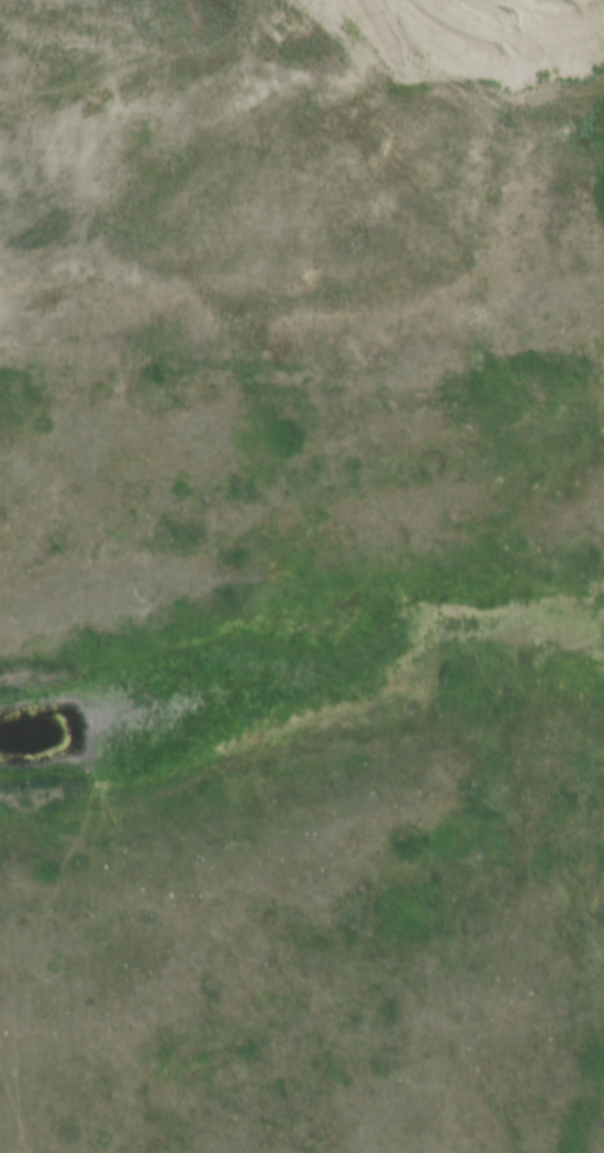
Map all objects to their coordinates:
quarry: (272, 25)

